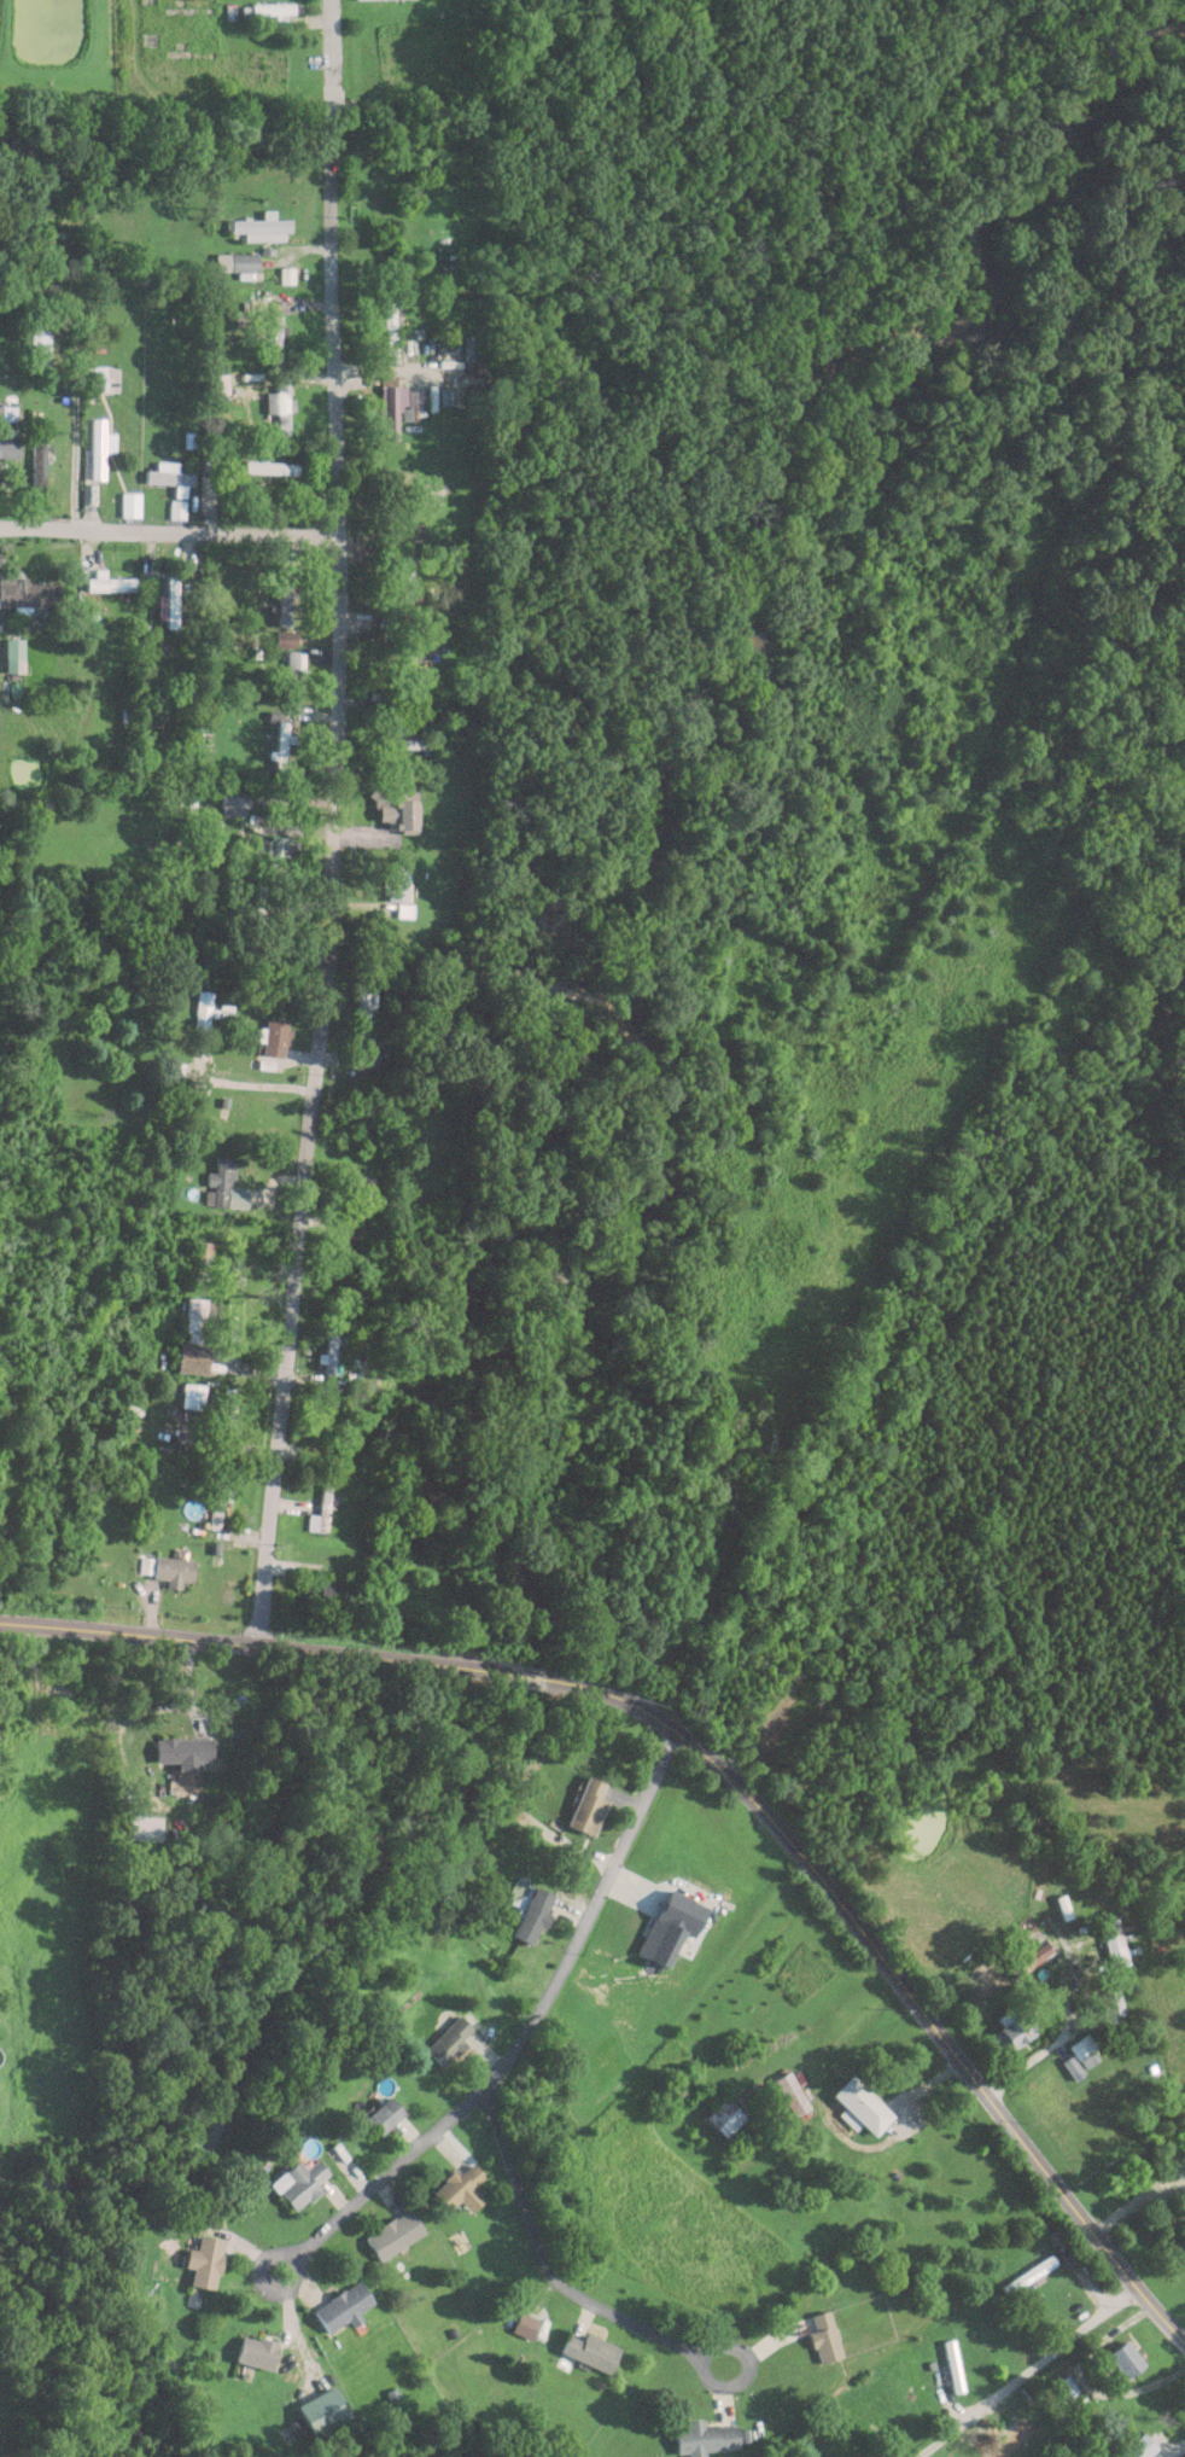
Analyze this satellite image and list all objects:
building: (274, 10)
building: (262, 227)
building: (237, 261)
building: (392, 330)
building: (274, 332)
building: (40, 345)
building: (459, 345)
building: (103, 378)
building: (396, 404)
building: (281, 407)
road: (75, 418)
building: (8, 444)
building: (100, 446)
building: (39, 459)
building: (272, 466)
building: (180, 490)
building: (132, 502)
road: (169, 536)
building: (408, 572)
building: (111, 580)
building: (28, 590)
building: (285, 599)
building: (170, 602)
building: (420, 645)
building: (14, 654)
building: (293, 669)
building: (413, 738)
building: (282, 743)
building: (235, 800)
building: (399, 807)
road: (335, 823)
building: (279, 855)
building: (398, 889)
building: (259, 903)
building: (364, 1007)
building: (274, 1040)
building: (367, 1058)
building: (223, 1183)
building: (363, 1194)
building: (200, 1258)
building: (194, 1335)
building: (331, 1347)
building: (192, 1395)
building: (228, 1408)
building: (732, 1479)
building: (322, 1510)
building: (169, 1568)
building: (317, 1594)
road: (701, 1602)
road: (255, 1643)
road: (530, 1675)
building: (69, 1692)
road: (142, 1713)
building: (185, 1751)
building: (589, 1805)
building: (145, 1827)
road: (589, 1911)
building: (535, 1915)
building: (1110, 1943)
building: (1026, 1952)
road: (893, 1975)
building: (1110, 2005)
building: (1015, 2030)
road: (1058, 2038)
building: (451, 2040)
building: (1079, 2046)
building: (1069, 2067)
building: (681, 2085)
building: (788, 2094)
building: (858, 2103)
building: (378, 2114)
building: (719, 2117)
road: (1179, 2176)
road: (380, 2179)
building: (297, 2182)
building: (453, 2184)
road: (1134, 2199)
building: (391, 2234)
building: (199, 2261)
road: (543, 2264)
building: (1027, 2276)
building: (339, 2306)
building: (521, 2325)
building: (821, 2337)
building: (586, 2351)
building: (252, 2352)
building: (1121, 2358)
building: (952, 2365)
road: (746, 2369)
road: (1027, 2371)
road: (1081, 2382)
building: (1061, 2389)
building: (319, 2411)
building: (701, 2438)
road: (1169, 2446)
building: (1136, 2447)
building: (1038, 2452)
building: (1184, 2456)

